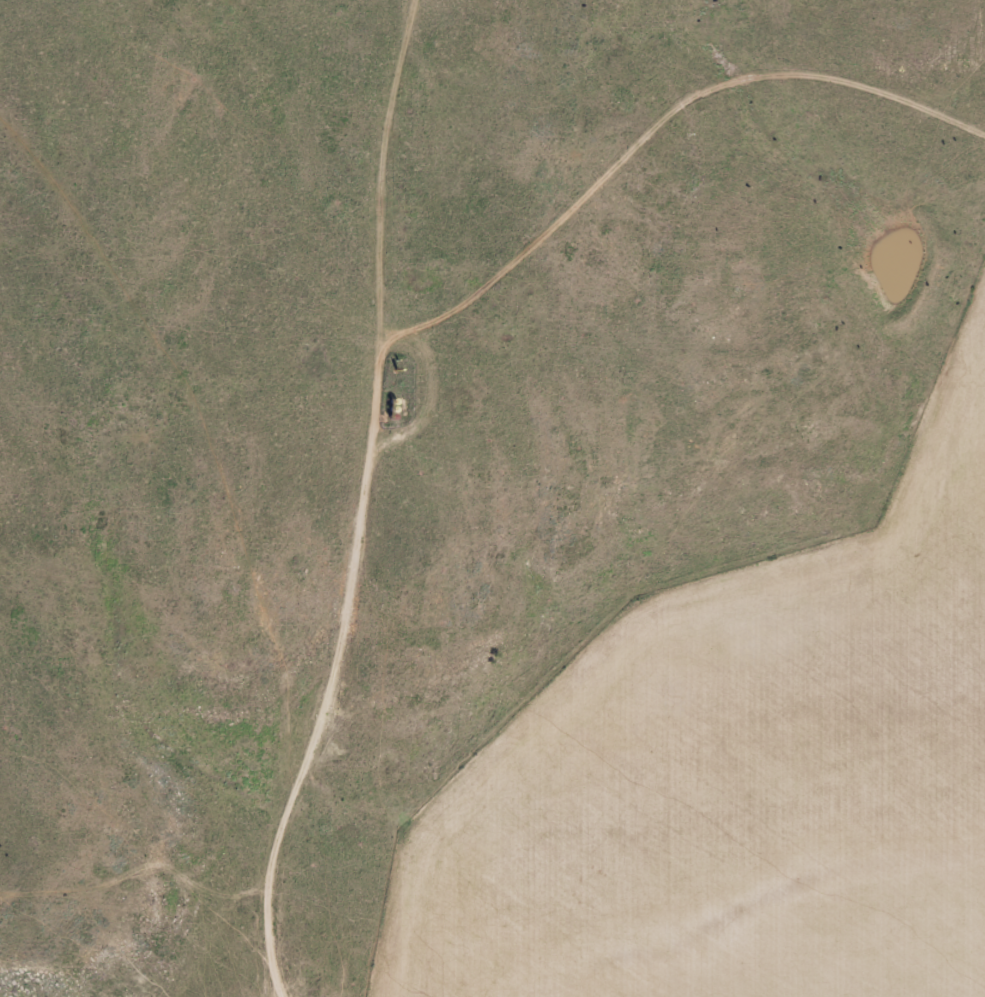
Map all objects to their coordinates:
road: (355, 369)
road: (231, 542)

